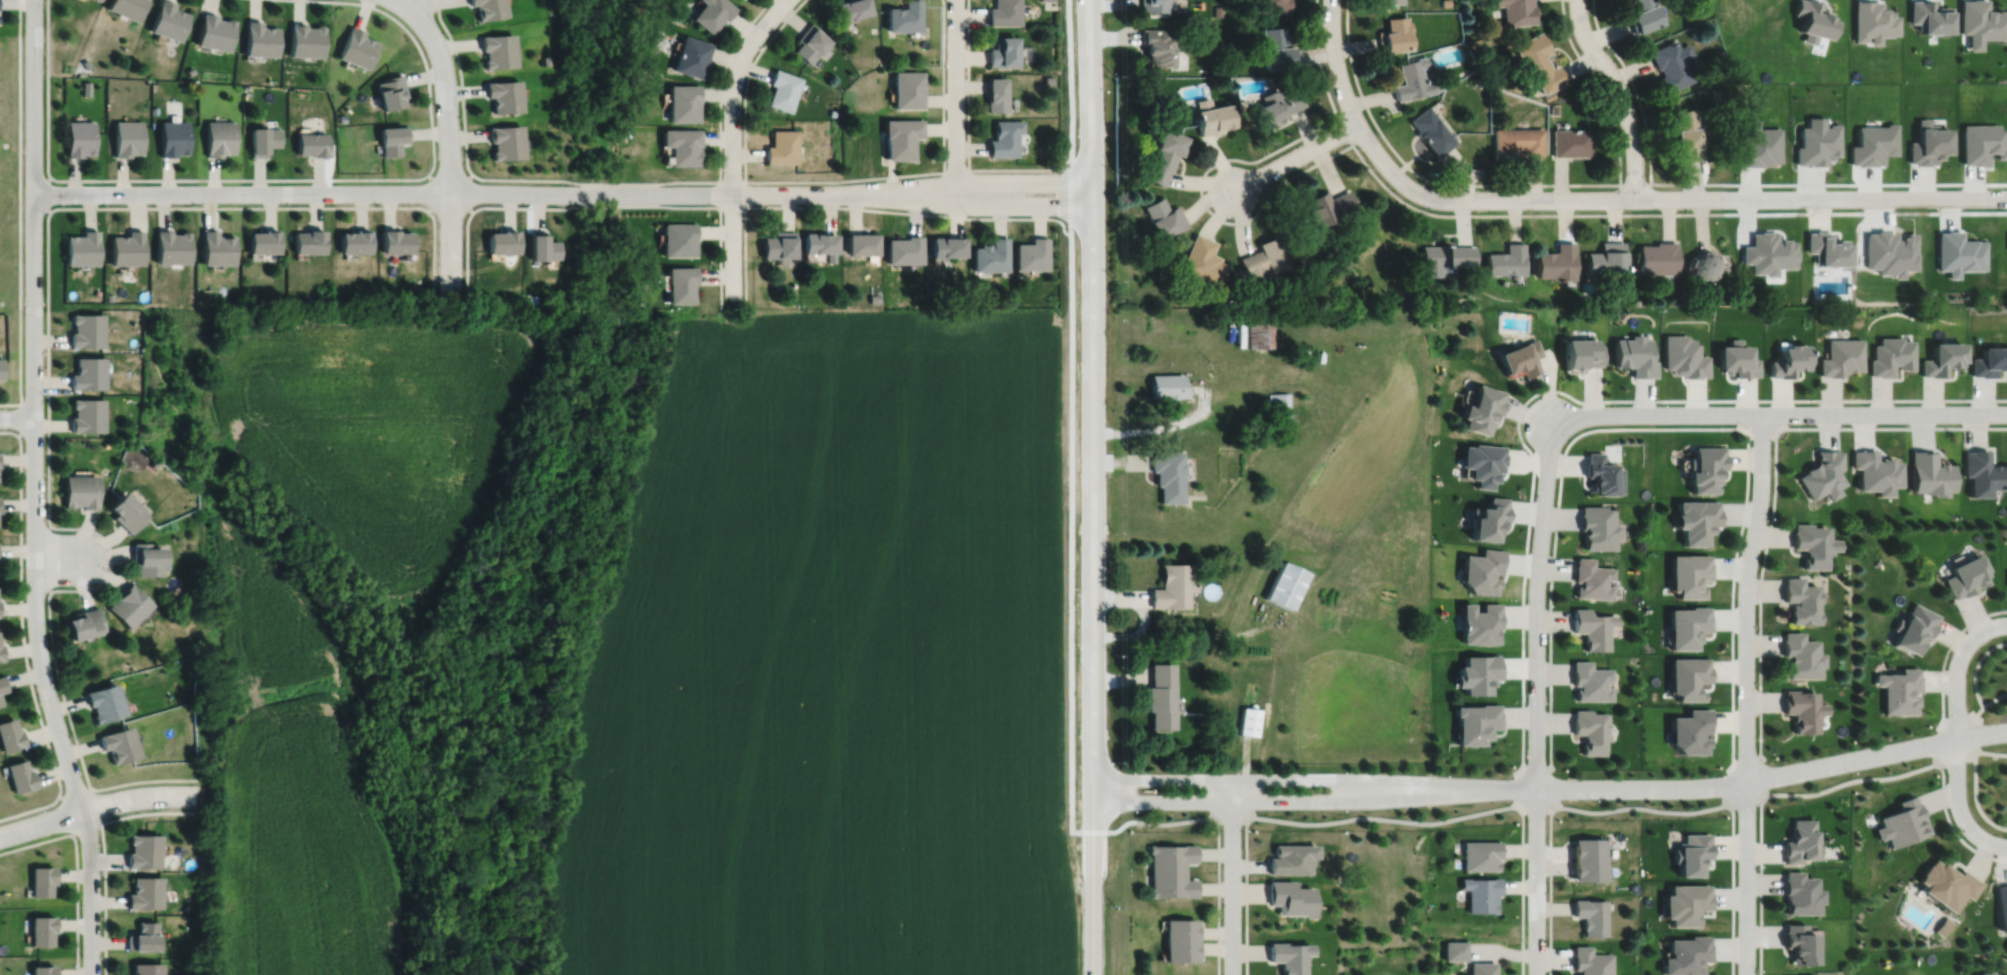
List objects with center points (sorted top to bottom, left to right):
building: (102, 0)
road: (398, 1)
road: (400, 1)
building: (1388, 1)
building: (1446, 2)
building: (1154, 5)
building: (1275, 5)
building: (125, 7)
building: (488, 8)
building: (852, 8)
building: (1217, 10)
building: (1517, 11)
building: (1005, 12)
building: (711, 13)
building: (1643, 15)
building: (904, 16)
building: (1930, 16)
building: (1812, 19)
building: (167, 20)
building: (1982, 20)
building: (1873, 21)
building: (214, 31)
building: (1393, 34)
building: (260, 38)
building: (305, 39)
building: (810, 42)
building: (1158, 46)
building: (357, 47)
building: (1277, 47)
building: (498, 49)
building: (1004, 51)
building: (691, 56)
building: (545, 60)
building: (630, 62)
building: (1538, 62)
building: (1671, 64)
building: (189, 70)
building: (1714, 73)
building: (1048, 79)
building: (1413, 79)
road: (1633, 86)
building: (154, 87)
road: (1601, 87)
building: (783, 89)
building: (907, 89)
building: (1714, 90)
building: (391, 91)
building: (997, 94)
road: (1620, 94)
building: (504, 95)
building: (1549, 95)
building: (682, 102)
road: (954, 102)
building: (1277, 105)
building: (1553, 109)
building: (832, 112)
building: (1213, 116)
building: (625, 131)
building: (1431, 131)
building: (1686, 135)
building: (127, 137)
building: (173, 137)
building: (218, 137)
building: (901, 137)
building: (78, 138)
building: (1006, 138)
building: (393, 139)
building: (263, 140)
road: (448, 140)
road: (732, 141)
building: (1517, 141)
building: (506, 142)
building: (1571, 142)
building: (1872, 143)
building: (1928, 143)
building: (1982, 143)
building: (312, 144)
building: (1816, 144)
building: (681, 145)
building: (1758, 145)
building: (782, 146)
building: (1165, 156)
road: (1294, 156)
road: (1013, 168)
road: (271, 178)
road: (719, 181)
road: (829, 181)
road: (968, 181)
road: (602, 183)
road: (1613, 183)
road: (441, 192)
road: (1601, 198)
road: (605, 204)
road: (968, 204)
road: (852, 206)
building: (1327, 208)
road: (1423, 209)
road: (19, 212)
building: (1164, 218)
building: (679, 239)
building: (397, 241)
building: (263, 242)
building: (309, 242)
building: (355, 242)
building: (501, 242)
building: (779, 245)
building: (863, 245)
building: (819, 246)
building: (542, 247)
building: (947, 247)
building: (81, 248)
building: (171, 248)
building: (126, 249)
building: (216, 249)
building: (1826, 249)
building: (905, 250)
building: (1767, 253)
building: (1959, 253)
building: (1032, 255)
building: (991, 256)
building: (1443, 258)
building: (1657, 258)
building: (1264, 259)
building: (1606, 259)
building: (1341, 261)
building: (1504, 261)
building: (1203, 262)
building: (1555, 263)
building: (1702, 265)
building: (1722, 267)
building: (681, 285)
building: (875, 298)
building: (1228, 302)
building: (1634, 302)
building: (88, 331)
building: (1258, 332)
building: (1581, 355)
building: (1635, 356)
building: (1684, 357)
building: (1891, 357)
building: (1841, 358)
building: (1519, 359)
building: (1943, 360)
building: (1736, 361)
building: (1789, 362)
building: (1989, 363)
road: (47, 369)
building: (1, 370)
building: (88, 374)
building: (1168, 386)
building: (1278, 403)
building: (1480, 411)
road: (1778, 412)
building: (87, 416)
road: (17, 417)
road: (21, 419)
road: (1159, 426)
crop: (376, 429)
road: (1117, 460)
building: (1482, 460)
building: (152, 463)
building: (1705, 466)
building: (1873, 469)
building: (1928, 471)
building: (1167, 472)
building: (1601, 472)
building: (1820, 472)
building: (1983, 473)
road: (1089, 487)
building: (78, 489)
road: (34, 490)
building: (123, 509)
building: (1487, 517)
building: (1696, 518)
building: (1597, 525)
building: (1810, 542)
building: (144, 557)
road: (57, 558)
building: (1481, 569)
building: (1688, 572)
building: (1965, 574)
building: (1591, 578)
building: (1286, 583)
building: (1172, 584)
road: (1118, 596)
building: (1798, 598)
building: (126, 604)
road: (1759, 605)
building: (81, 621)
building: (1479, 622)
building: (1686, 625)
building: (1913, 626)
building: (1592, 627)
road: (1137, 634)
road: (1209, 634)
road: (22, 639)
road: (1948, 648)
building: (0, 652)
building: (1798, 654)
crop: (837, 657)
building: (1477, 672)
building: (1688, 676)
road: (1117, 678)
building: (1590, 680)
road: (1974, 680)
building: (3, 682)
building: (1898, 689)
road: (1745, 693)
building: (1158, 694)
road: (1535, 695)
building: (0, 701)
building: (103, 701)
building: (1799, 709)
road: (1967, 714)
building: (1248, 720)
building: (1476, 722)
building: (1590, 729)
building: (1689, 730)
road: (1977, 731)
building: (9, 734)
road: (1956, 734)
building: (117, 743)
road: (1955, 759)
road: (1538, 768)
building: (20, 775)
road: (1287, 778)
crop: (286, 780)
road: (1747, 780)
road: (1728, 781)
road: (1974, 782)
road: (1516, 784)
road: (1552, 787)
road: (1287, 800)
road: (1743, 801)
road: (94, 804)
road: (97, 806)
road: (1641, 806)
road: (1536, 807)
road: (66, 814)
road: (1231, 818)
road: (1388, 818)
building: (1900, 822)
road: (1951, 825)
building: (1796, 841)
road: (1218, 847)
building: (1587, 848)
road: (103, 850)
building: (142, 850)
building: (1691, 854)
building: (1480, 855)
building: (1171, 856)
building: (1289, 858)
road: (76, 867)
building: (1587, 869)
road: (1231, 876)
building: (42, 881)
road: (1760, 882)
building: (1171, 883)
building: (1944, 884)
building: (143, 893)
building: (1481, 893)
building: (1797, 893)
building: (1288, 898)
building: (1685, 903)
building: (2001, 906)
building: (1591, 915)
building: (1941, 926)
building: (1179, 929)
building: (42, 930)
building: (141, 937)
building: (1795, 944)
building: (1454, 950)
building: (1179, 951)
building: (1686, 955)
building: (1287, 956)
building: (1590, 961)
building: (1481, 968)
building: (145, 969)
building: (42, 970)
building: (1986, 974)

